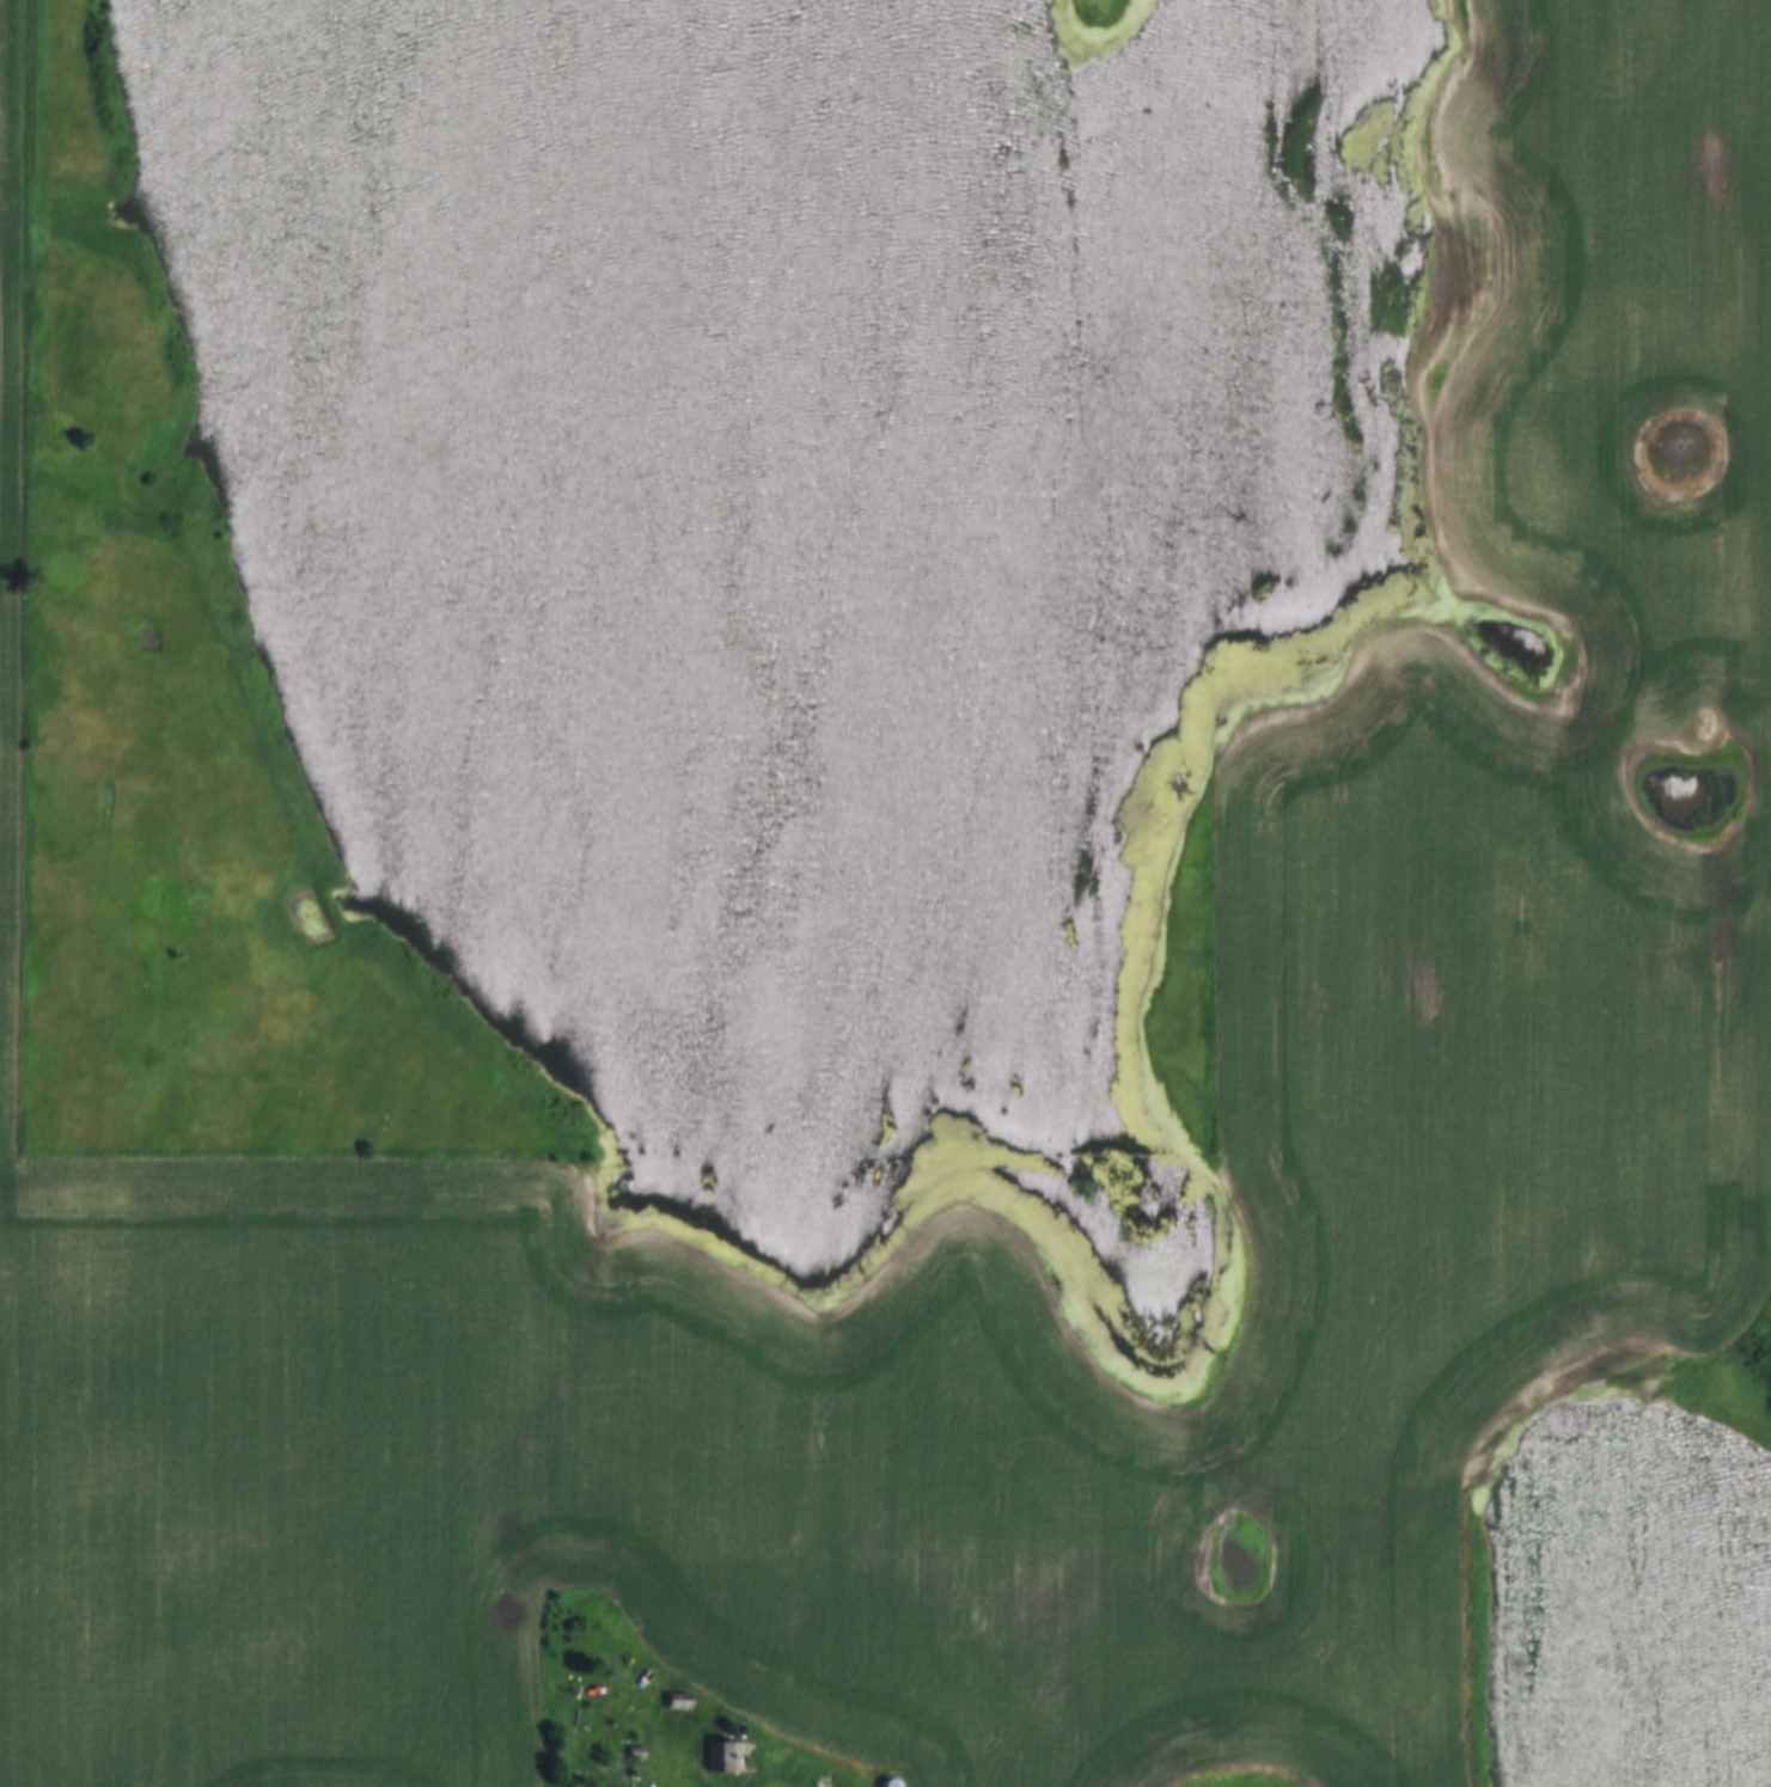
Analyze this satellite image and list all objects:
building: (677, 1703)
building: (727, 1760)
building: (890, 1783)
road: (716, 1786)

